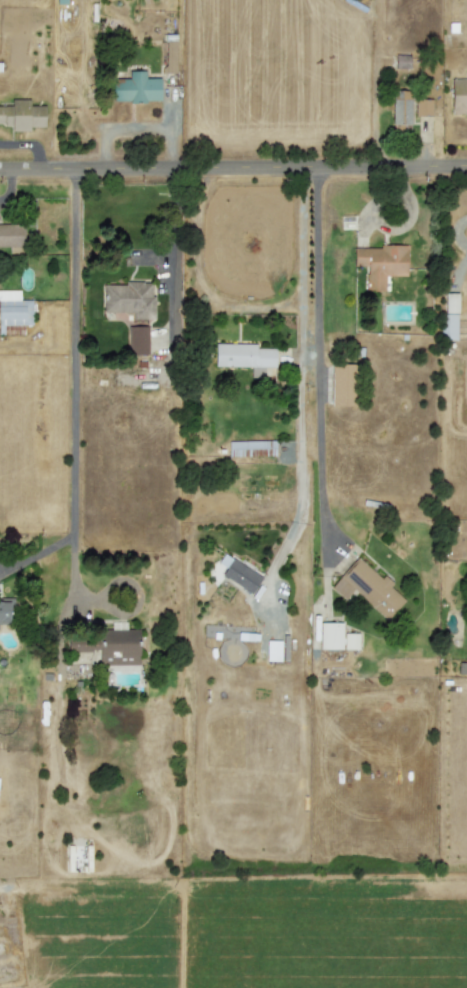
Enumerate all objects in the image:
building: (61, 1)
building: (170, 55)
building: (136, 87)
building: (459, 94)
building: (401, 106)
building: (423, 106)
building: (22, 114)
road: (374, 130)
road: (233, 166)
road: (457, 230)
building: (11, 237)
road: (173, 247)
building: (380, 263)
building: (129, 298)
building: (451, 302)
building: (14, 312)
road: (317, 324)
building: (448, 326)
road: (301, 338)
building: (138, 339)
road: (75, 348)
road: (309, 350)
building: (245, 356)
building: (342, 383)
building: (251, 447)
road: (39, 551)
building: (238, 573)
road: (75, 585)
building: (368, 587)
building: (6, 610)
building: (330, 635)
building: (350, 640)
building: (79, 644)
building: (118, 646)
building: (273, 649)
crop: (234, 916)

